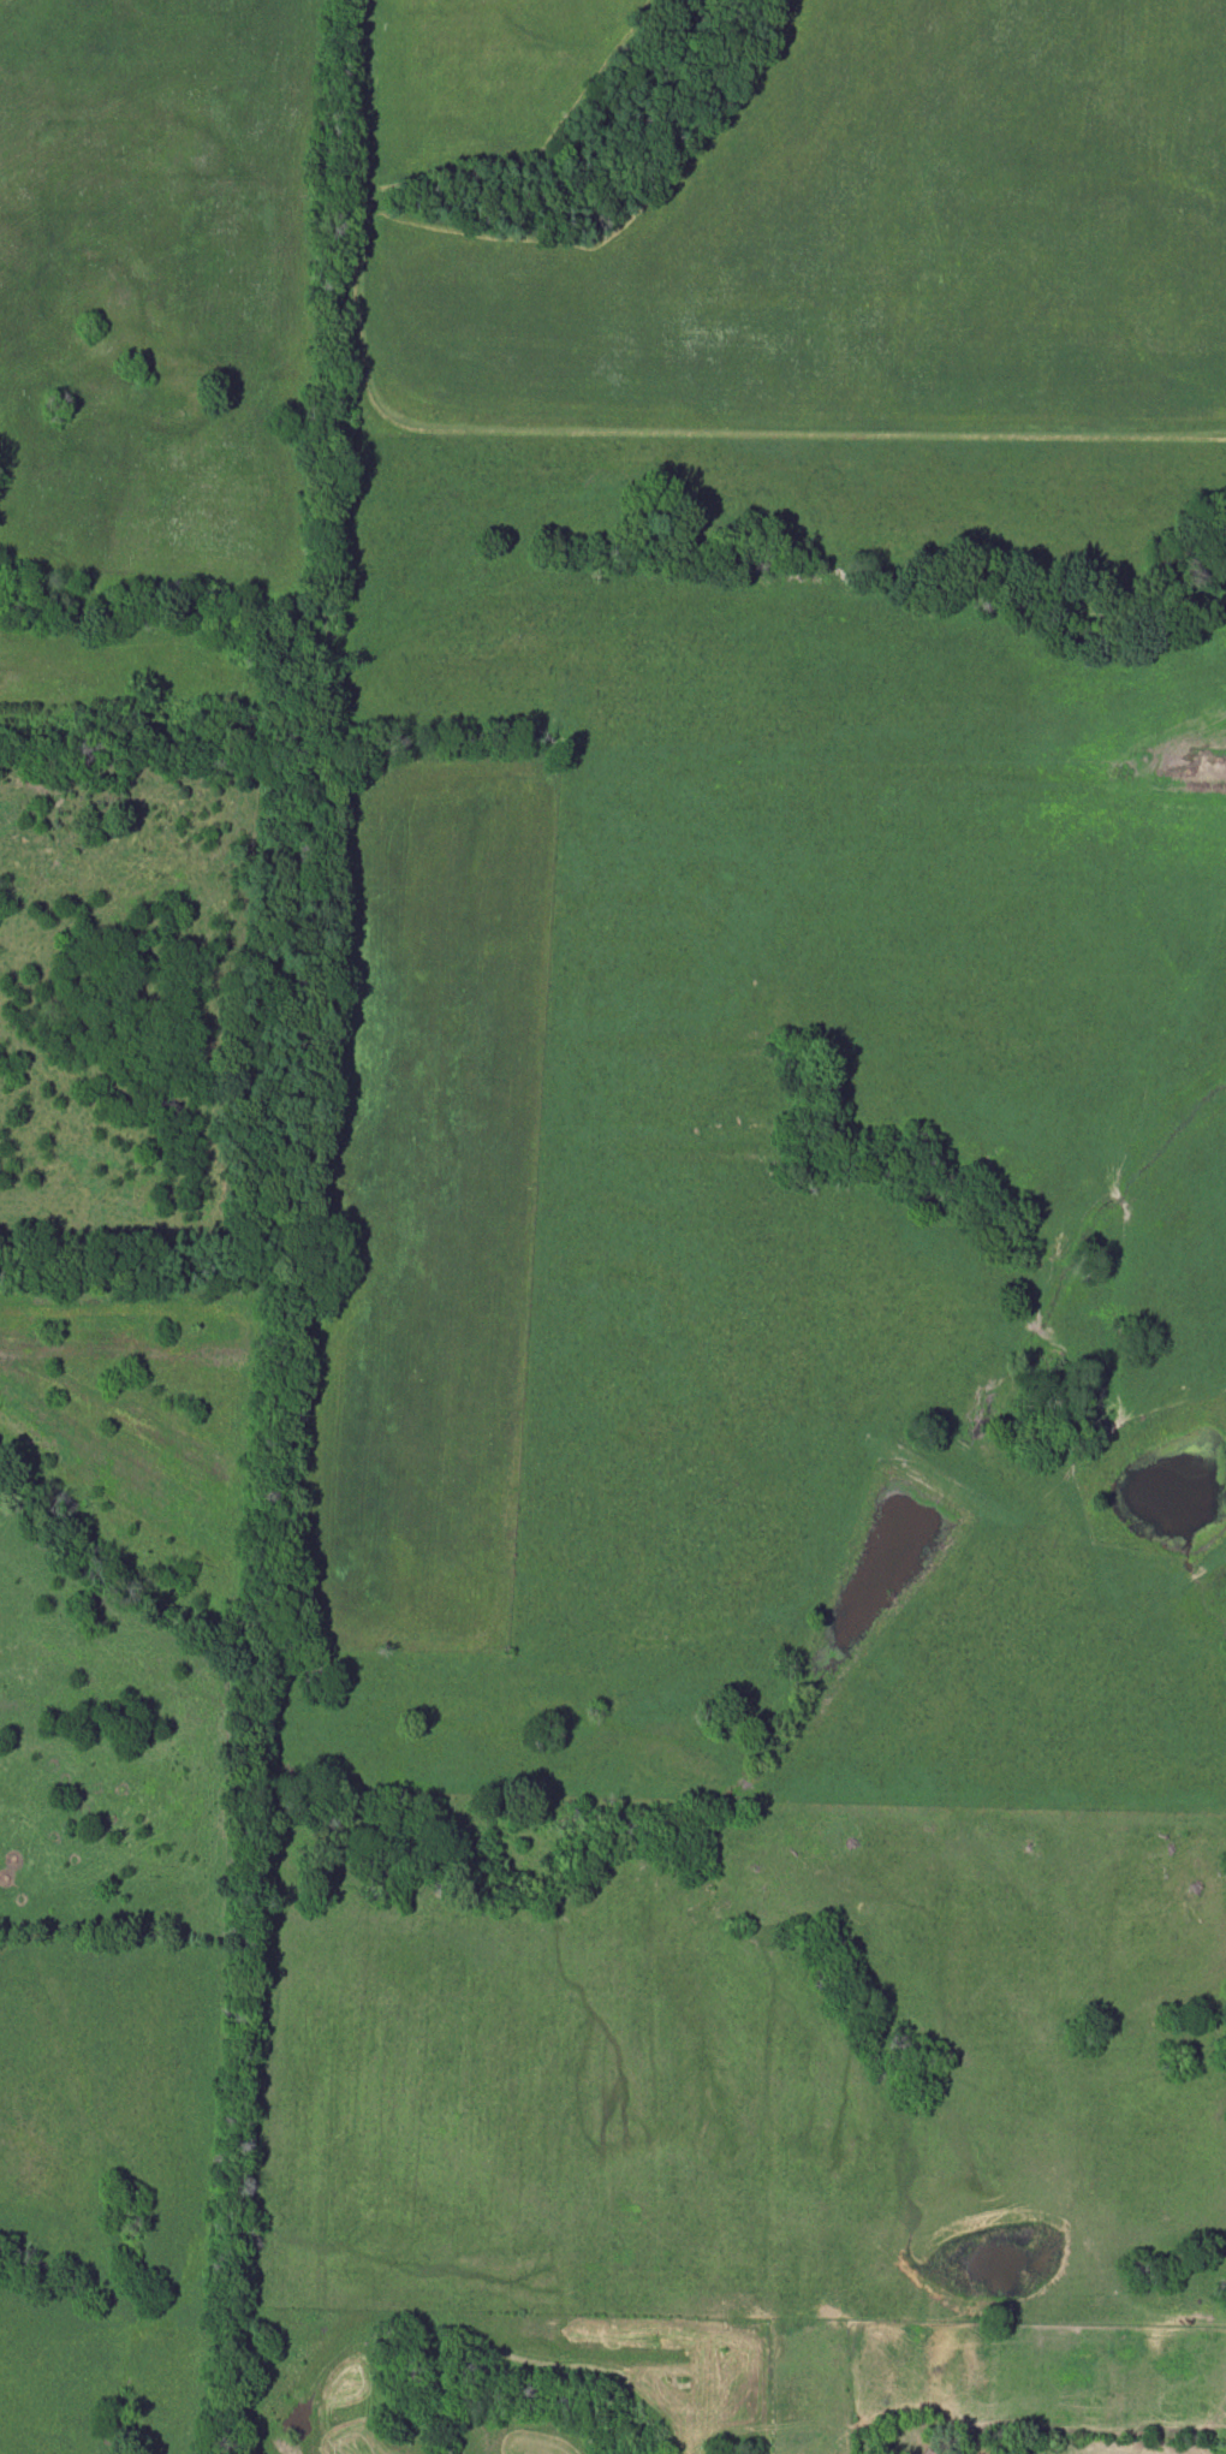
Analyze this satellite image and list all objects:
building: (929, 2452)

